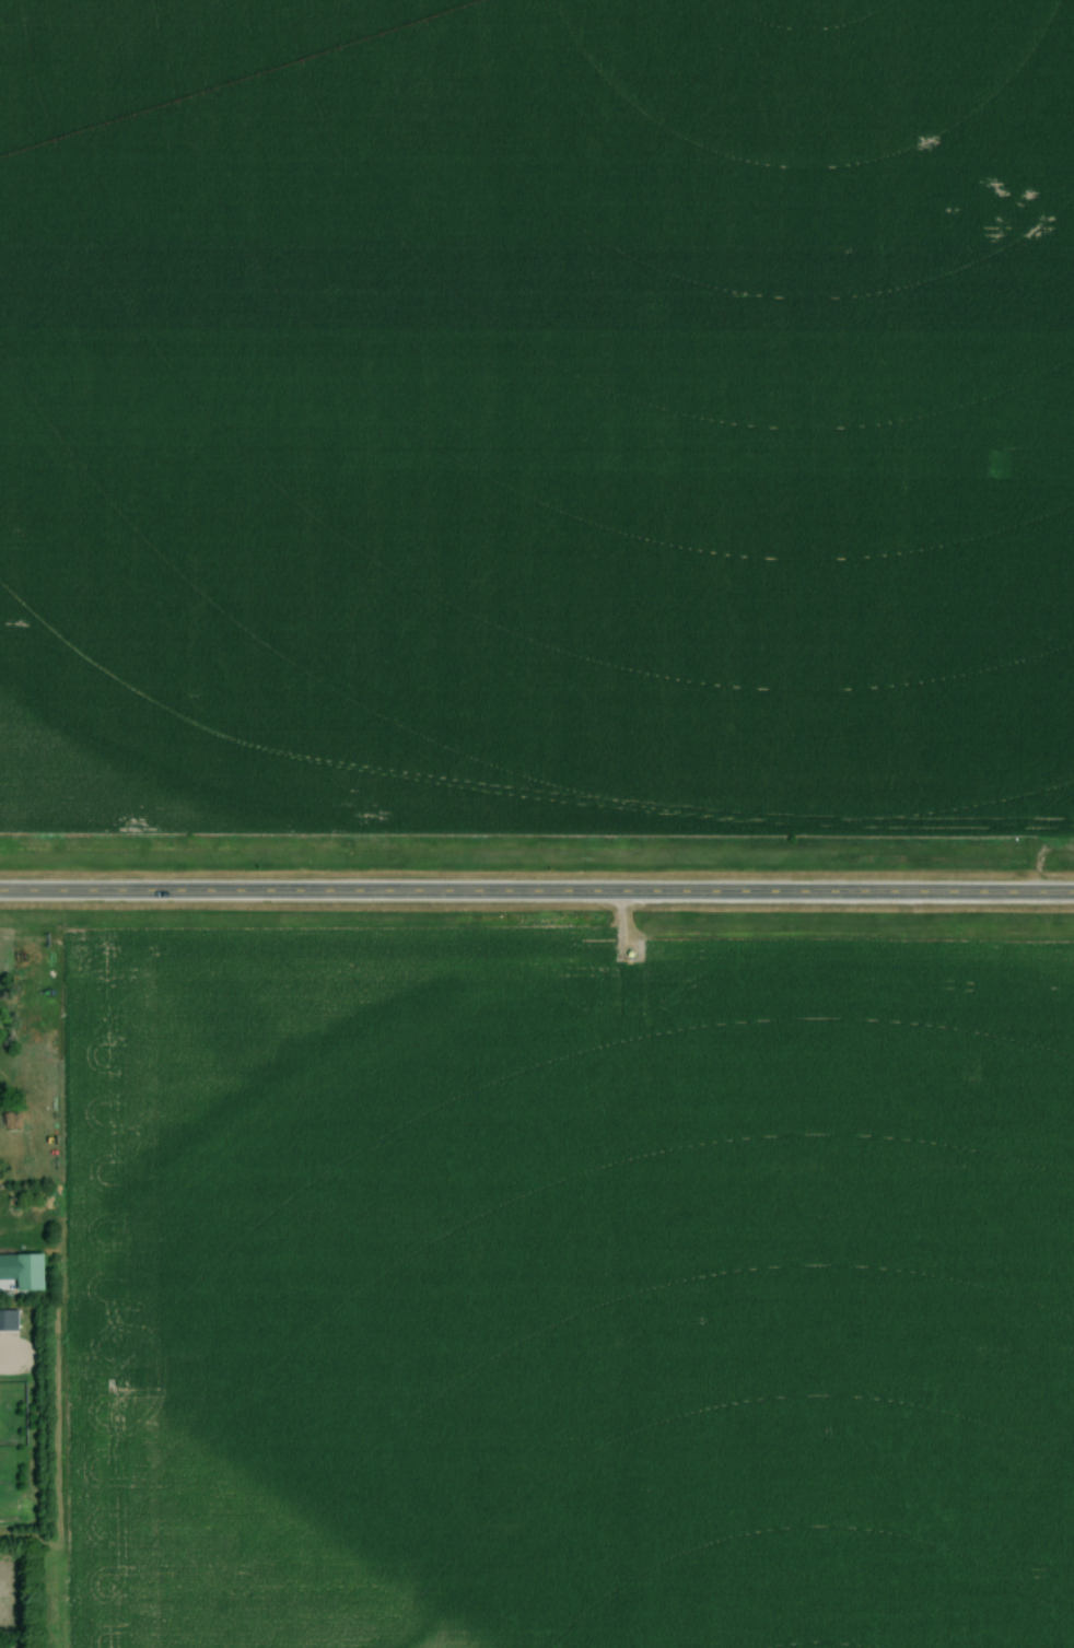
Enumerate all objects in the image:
road: (537, 893)
building: (28, 1274)
building: (8, 1321)

